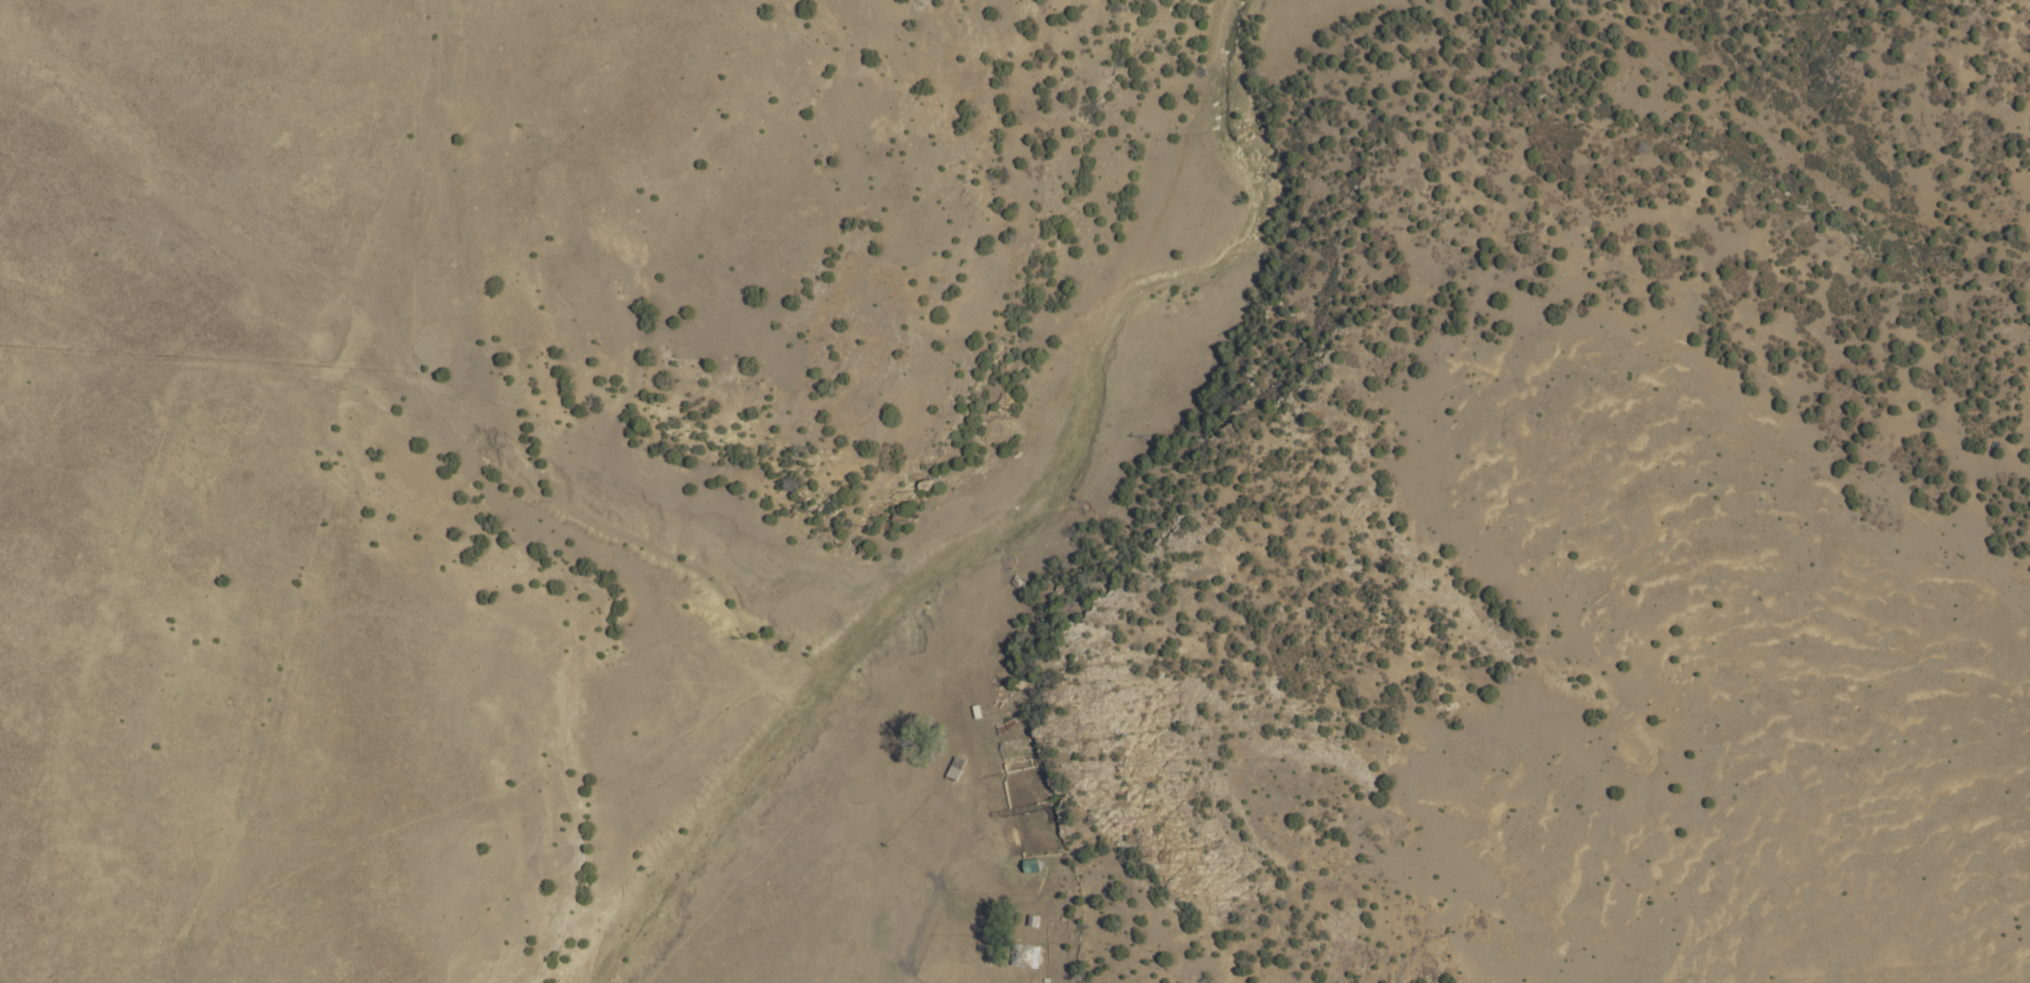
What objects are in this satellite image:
road: (318, 497)

